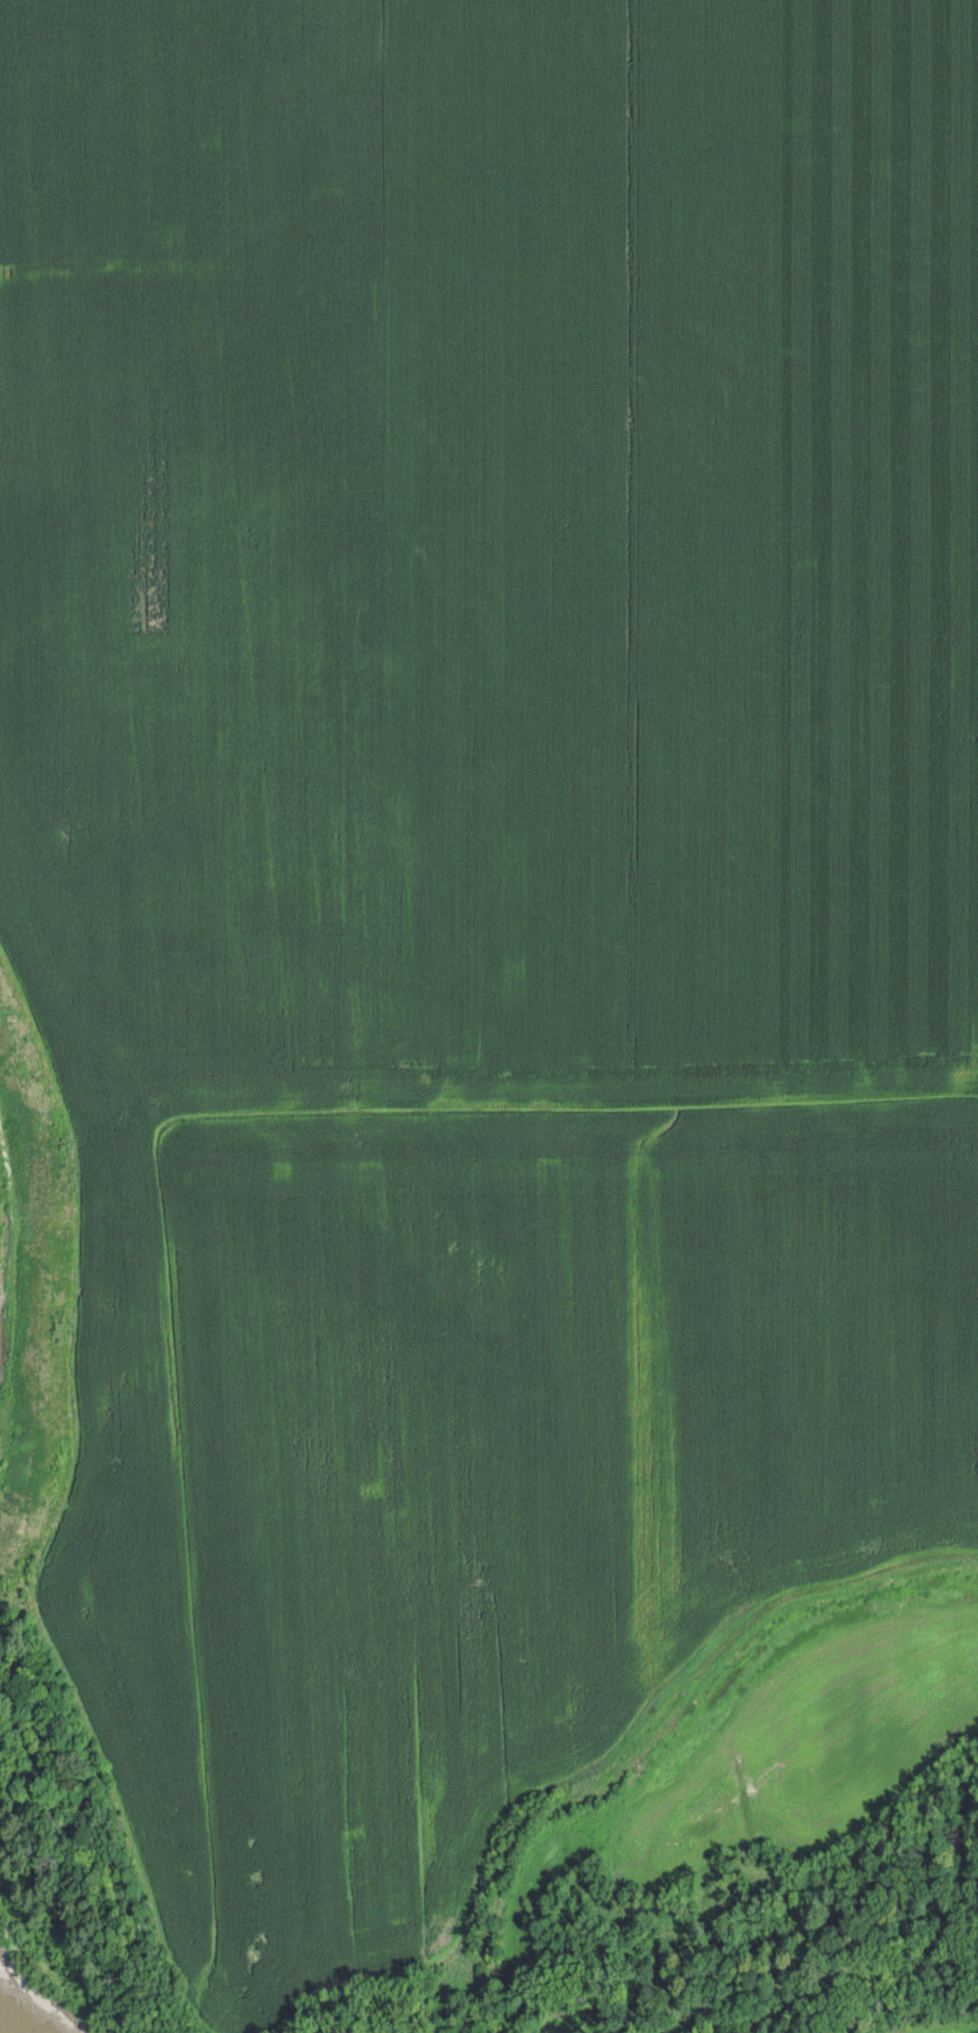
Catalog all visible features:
river: (28, 1999)

